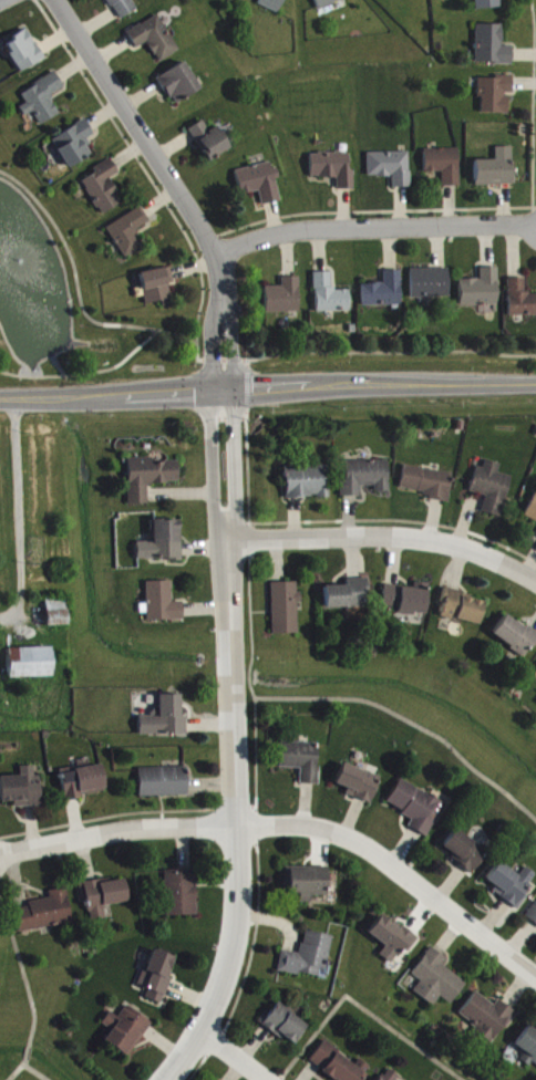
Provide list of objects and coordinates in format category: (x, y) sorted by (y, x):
building: (328, 3)
building: (274, 4)
building: (489, 4)
building: (124, 8)
building: (156, 39)
building: (494, 46)
building: (25, 52)
building: (181, 84)
building: (497, 95)
building: (44, 100)
building: (212, 142)
building: (75, 145)
building: (446, 166)
building: (393, 168)
building: (334, 169)
building: (498, 170)
road: (175, 184)
building: (261, 184)
building: (105, 188)
road: (377, 227)
building: (131, 232)
road: (73, 263)
building: (432, 284)
building: (158, 285)
building: (483, 290)
building: (385, 292)
building: (332, 297)
building: (286, 298)
building: (522, 300)
road: (185, 336)
road: (388, 349)
road: (221, 357)
road: (247, 361)
road: (84, 371)
road: (247, 386)
road: (267, 390)
traffic signals: (221, 391)
road: (391, 404)
building: (367, 478)
building: (150, 479)
building: (308, 482)
building: (429, 484)
building: (494, 489)
road: (17, 509)
building: (533, 512)
road: (339, 519)
road: (386, 538)
building: (164, 543)
building: (349, 596)
building: (408, 600)
building: (164, 604)
road: (250, 609)
building: (463, 609)
building: (287, 610)
building: (59, 614)
building: (516, 636)
building: (31, 664)
road: (350, 699)
building: (166, 719)
road: (236, 746)
building: (302, 761)
building: (84, 782)
building: (165, 783)
building: (359, 783)
building: (23, 790)
building: (418, 808)
road: (126, 811)
road: (290, 825)
building: (465, 852)
building: (308, 883)
building: (512, 884)
building: (106, 894)
building: (183, 894)
building: (48, 914)
building: (533, 916)
building: (394, 941)
building: (309, 957)
road: (248, 959)
road: (22, 970)
building: (158, 976)
building: (439, 982)
road: (360, 1005)
building: (487, 1018)
building: (286, 1025)
building: (126, 1031)
building: (529, 1046)
road: (28, 1049)
road: (231, 1053)
building: (340, 1066)
road: (16, 1068)
road: (39, 1070)
building: (392, 1076)

